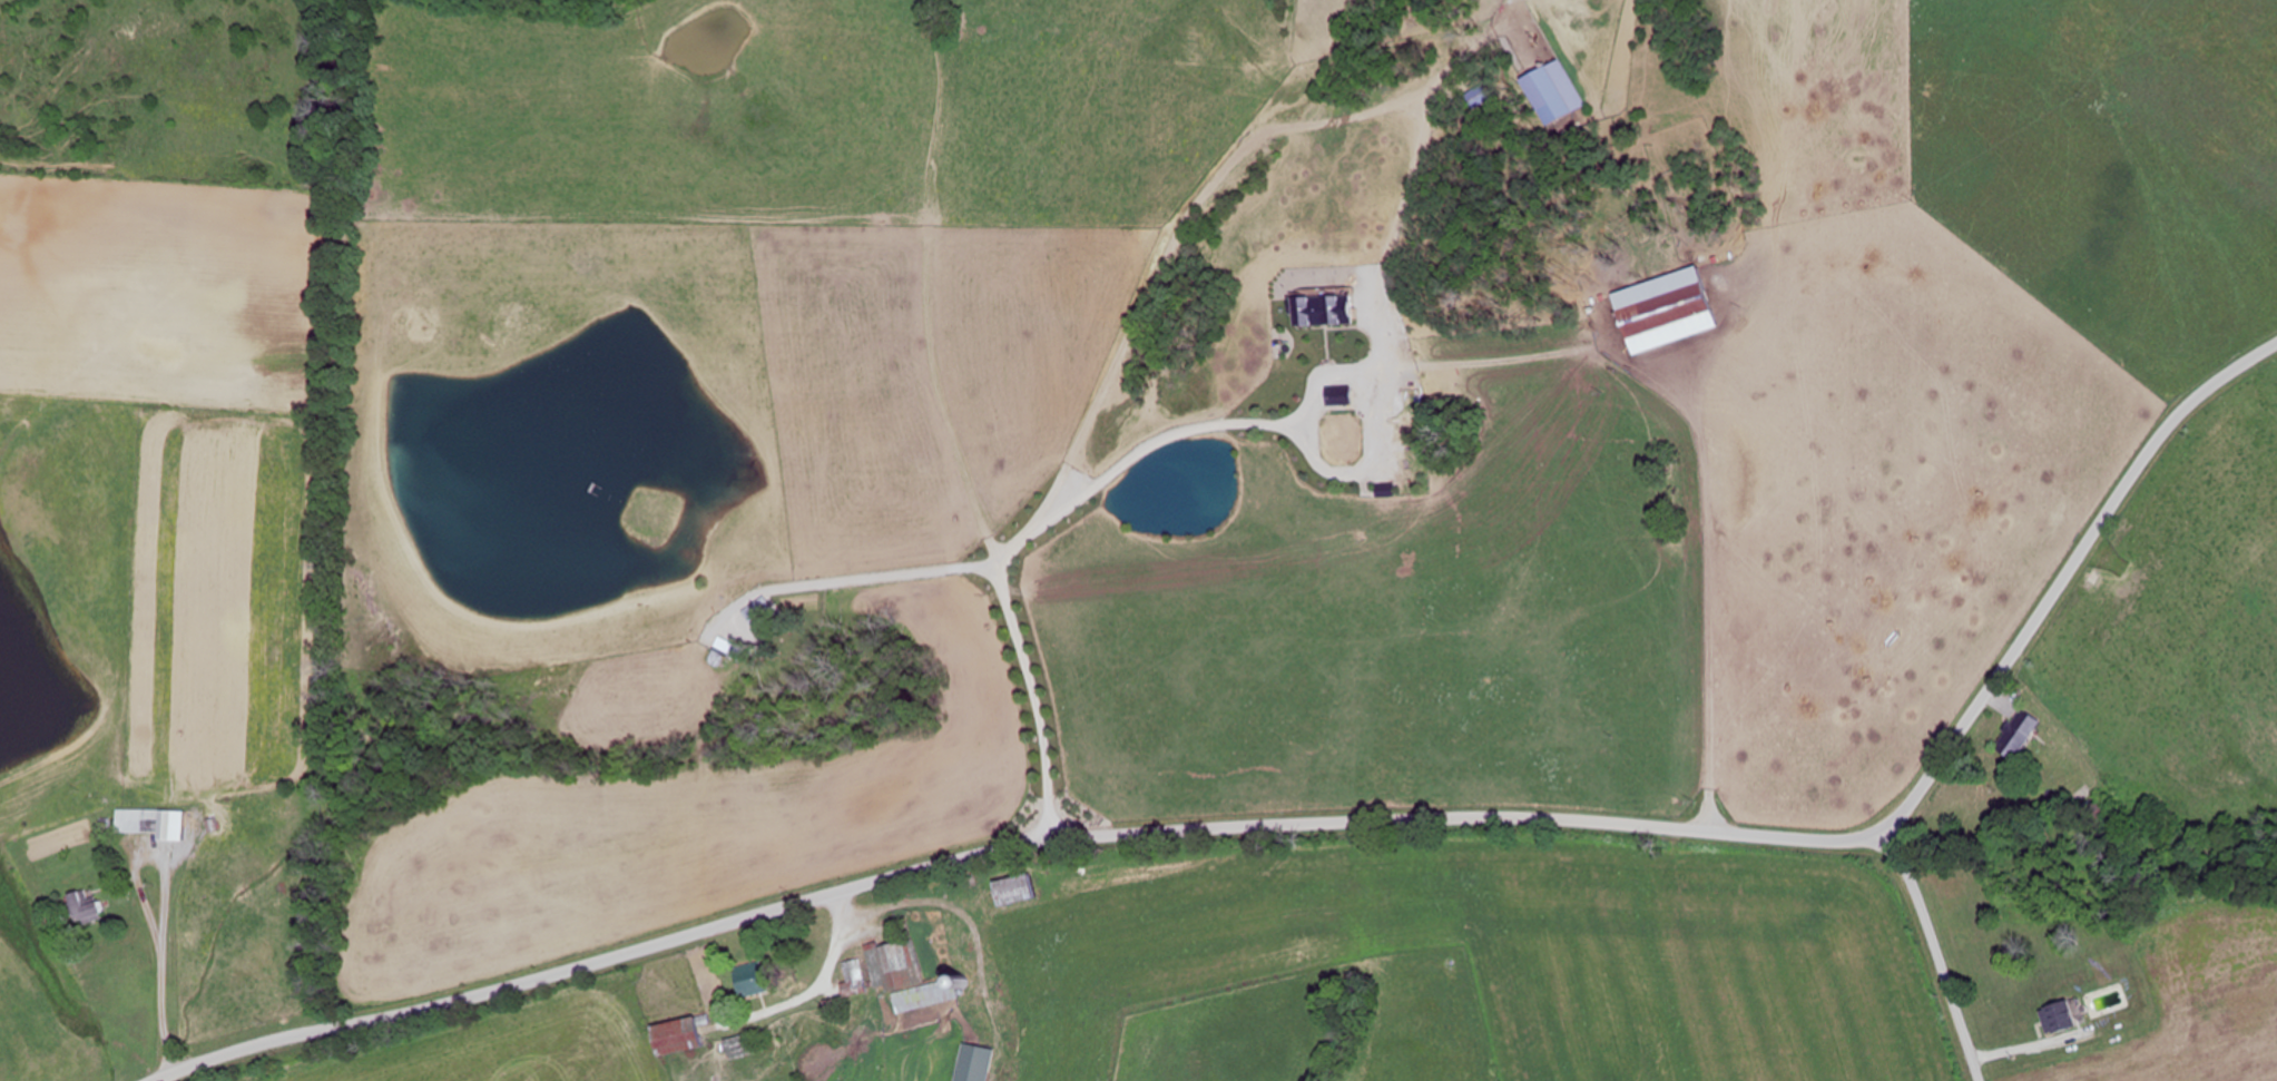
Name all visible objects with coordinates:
building: (1668, 309)
road: (1648, 535)
building: (759, 612)
road: (1115, 615)
building: (728, 647)
building: (2013, 741)
building: (2103, 820)
building: (147, 822)
road: (1318, 822)
road: (217, 867)
building: (1017, 890)
building: (86, 908)
road: (1934, 952)
building: (907, 977)
building: (855, 980)
building: (753, 981)
building: (2059, 1019)
building: (681, 1035)
building: (749, 1045)
building: (975, 1063)

